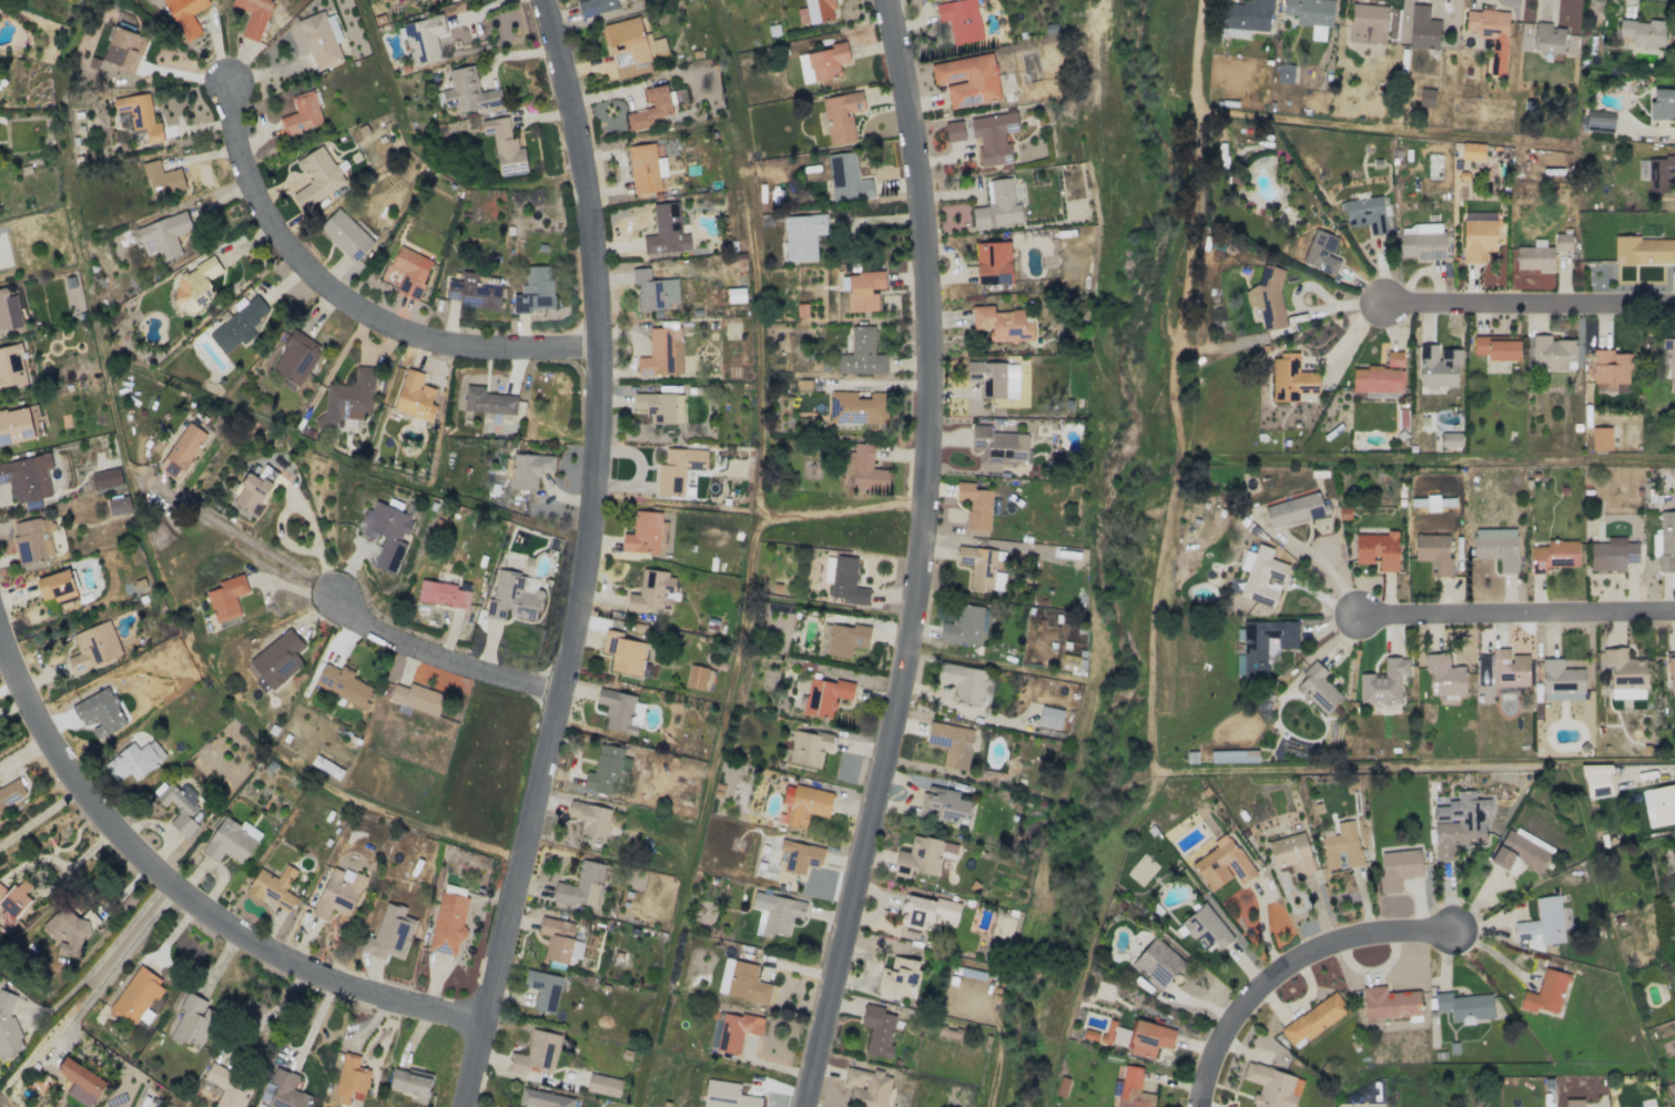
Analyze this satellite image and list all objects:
building: (596, 6)
building: (815, 11)
building: (1310, 13)
building: (1246, 14)
building: (185, 16)
building: (253, 17)
building: (960, 19)
building: (1368, 23)
building: (1489, 28)
building: (1422, 29)
building: (1642, 32)
building: (1541, 37)
building: (424, 39)
building: (319, 40)
building: (124, 49)
building: (822, 62)
building: (1285, 73)
building: (967, 80)
building: (468, 91)
building: (1425, 98)
building: (1661, 103)
building: (650, 108)
building: (302, 113)
building: (140, 115)
building: (841, 115)
building: (1600, 119)
building: (953, 130)
building: (993, 136)
building: (1472, 151)
building: (646, 167)
building: (1662, 172)
building: (317, 176)
building: (846, 177)
building: (162, 179)
building: (997, 205)
building: (666, 231)
building: (164, 234)
building: (345, 234)
building: (803, 236)
building: (1478, 240)
building: (1422, 241)
road: (222, 246)
building: (1644, 250)
building: (1321, 252)
building: (1534, 256)
building: (994, 261)
building: (410, 271)
building: (196, 281)
building: (535, 290)
building: (653, 290)
building: (864, 290)
building: (473, 292)
building: (1268, 299)
road: (348, 302)
road: (1527, 303)
building: (9, 309)
building: (240, 323)
building: (1002, 324)
building: (1496, 347)
building: (662, 353)
building: (1552, 353)
building: (862, 354)
road: (759, 355)
building: (296, 357)
building: (1668, 360)
building: (1438, 365)
building: (11, 367)
building: (1611, 367)
building: (1379, 376)
building: (1291, 378)
building: (415, 396)
building: (348, 398)
building: (488, 400)
building: (660, 406)
building: (856, 408)
building: (20, 424)
building: (1601, 438)
building: (1450, 439)
building: (999, 446)
building: (182, 451)
road: (1496, 457)
building: (529, 469)
building: (678, 469)
building: (864, 470)
building: (27, 477)
building: (105, 478)
building: (252, 491)
building: (1432, 502)
building: (119, 505)
building: (975, 505)
building: (1293, 510)
building: (387, 532)
building: (643, 532)
building: (34, 539)
building: (1496, 547)
road: (265, 549)
building: (1377, 550)
building: (1433, 552)
building: (1613, 553)
building: (1554, 555)
road: (583, 557)
road: (916, 557)
building: (978, 567)
building: (828, 569)
road: (1329, 569)
building: (1261, 576)
building: (846, 581)
building: (58, 588)
building: (652, 592)
building: (441, 593)
building: (226, 597)
building: (514, 597)
road: (1516, 612)
building: (965, 627)
building: (846, 639)
building: (93, 647)
building: (623, 652)
road: (443, 658)
building: (278, 659)
building: (1068, 662)
building: (1509, 668)
building: (1624, 669)
building: (1671, 671)
building: (1444, 676)
building: (699, 678)
building: (1561, 681)
building: (964, 682)
building: (1383, 682)
building: (343, 684)
building: (1318, 688)
building: (1627, 693)
building: (824, 695)
building: (416, 698)
building: (617, 710)
building: (101, 711)
building: (1049, 717)
road: (718, 737)
building: (951, 743)
building: (809, 748)
building: (134, 761)
building: (603, 770)
building: (1596, 780)
building: (11, 793)
building: (803, 804)
building: (943, 804)
building: (1659, 805)
building: (180, 806)
building: (589, 817)
road: (42, 822)
building: (1460, 823)
building: (231, 841)
building: (1342, 845)
building: (1521, 851)
building: (1291, 853)
building: (1673, 855)
building: (799, 856)
building: (923, 856)
building: (1222, 863)
building: (1398, 869)
building: (581, 886)
building: (274, 887)
building: (337, 893)
road: (187, 895)
building: (13, 900)
building: (926, 911)
building: (775, 913)
building: (1543, 922)
building: (448, 924)
building: (1206, 928)
building: (70, 930)
building: (389, 934)
building: (557, 938)
road: (101, 961)
building: (1157, 963)
road: (1286, 966)
road: (116, 971)
building: (899, 976)
building: (742, 982)
building: (542, 989)
building: (1545, 993)
building: (136, 996)
building: (1389, 1003)
building: (1464, 1006)
building: (1312, 1019)
building: (193, 1020)
building: (8, 1027)
building: (877, 1029)
building: (735, 1030)
building: (1144, 1037)
building: (536, 1053)
building: (351, 1079)
building: (81, 1081)
building: (409, 1081)
building: (603, 1085)
building: (1272, 1086)
building: (225, 1087)
building: (866, 1087)
building: (1133, 1089)
building: (283, 1090)
building: (727, 1095)
building: (541, 1099)

